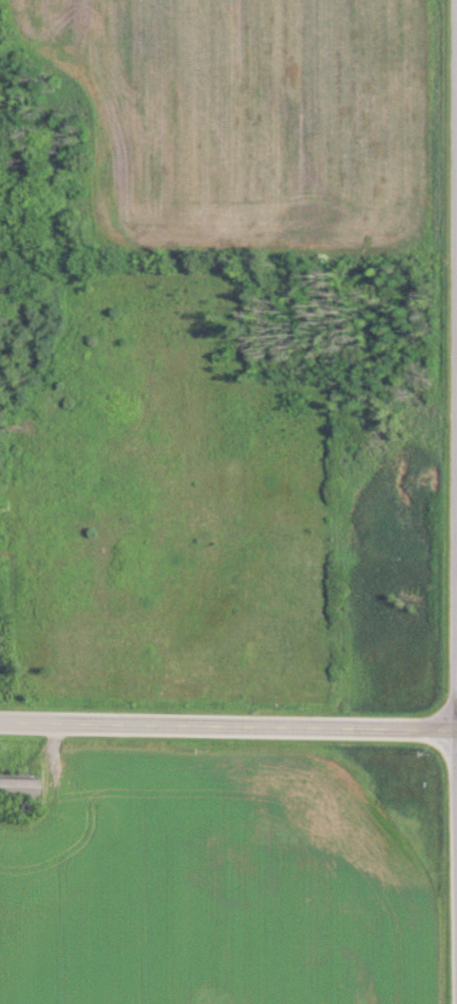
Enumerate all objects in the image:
road: (228, 724)
building: (17, 788)

